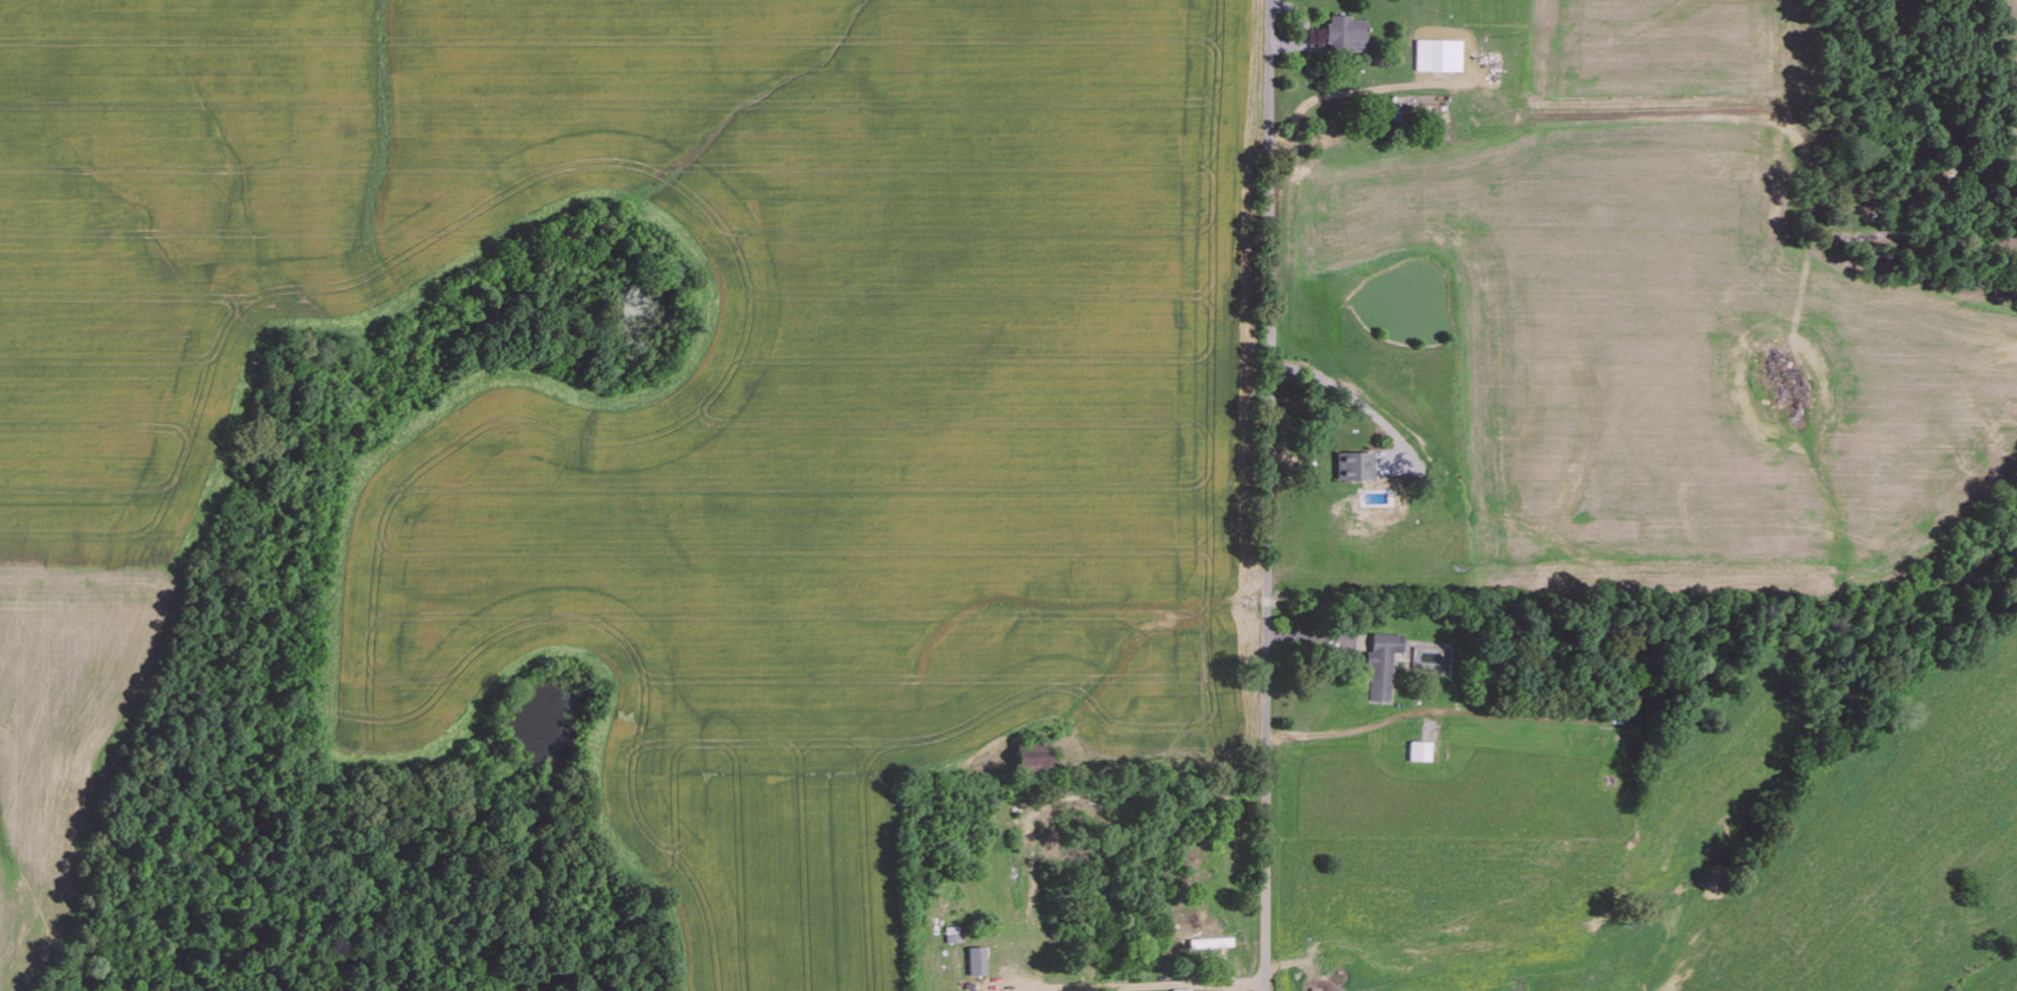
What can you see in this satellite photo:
building: (1347, 33)
building: (1439, 56)
building: (1354, 467)
road: (1270, 495)
building: (1383, 665)
building: (1422, 751)
building: (977, 961)

